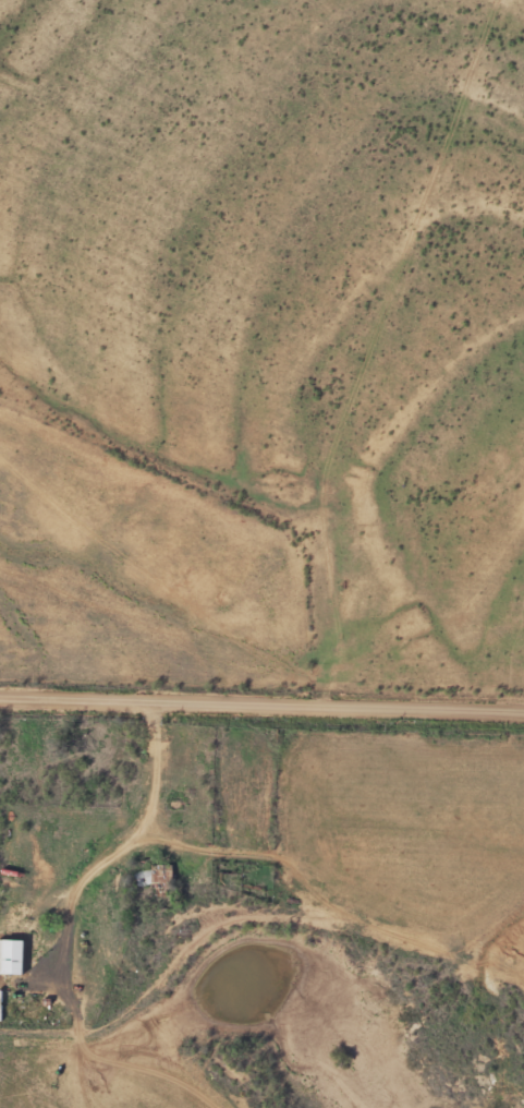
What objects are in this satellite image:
road: (261, 702)
building: (153, 875)
building: (12, 959)

